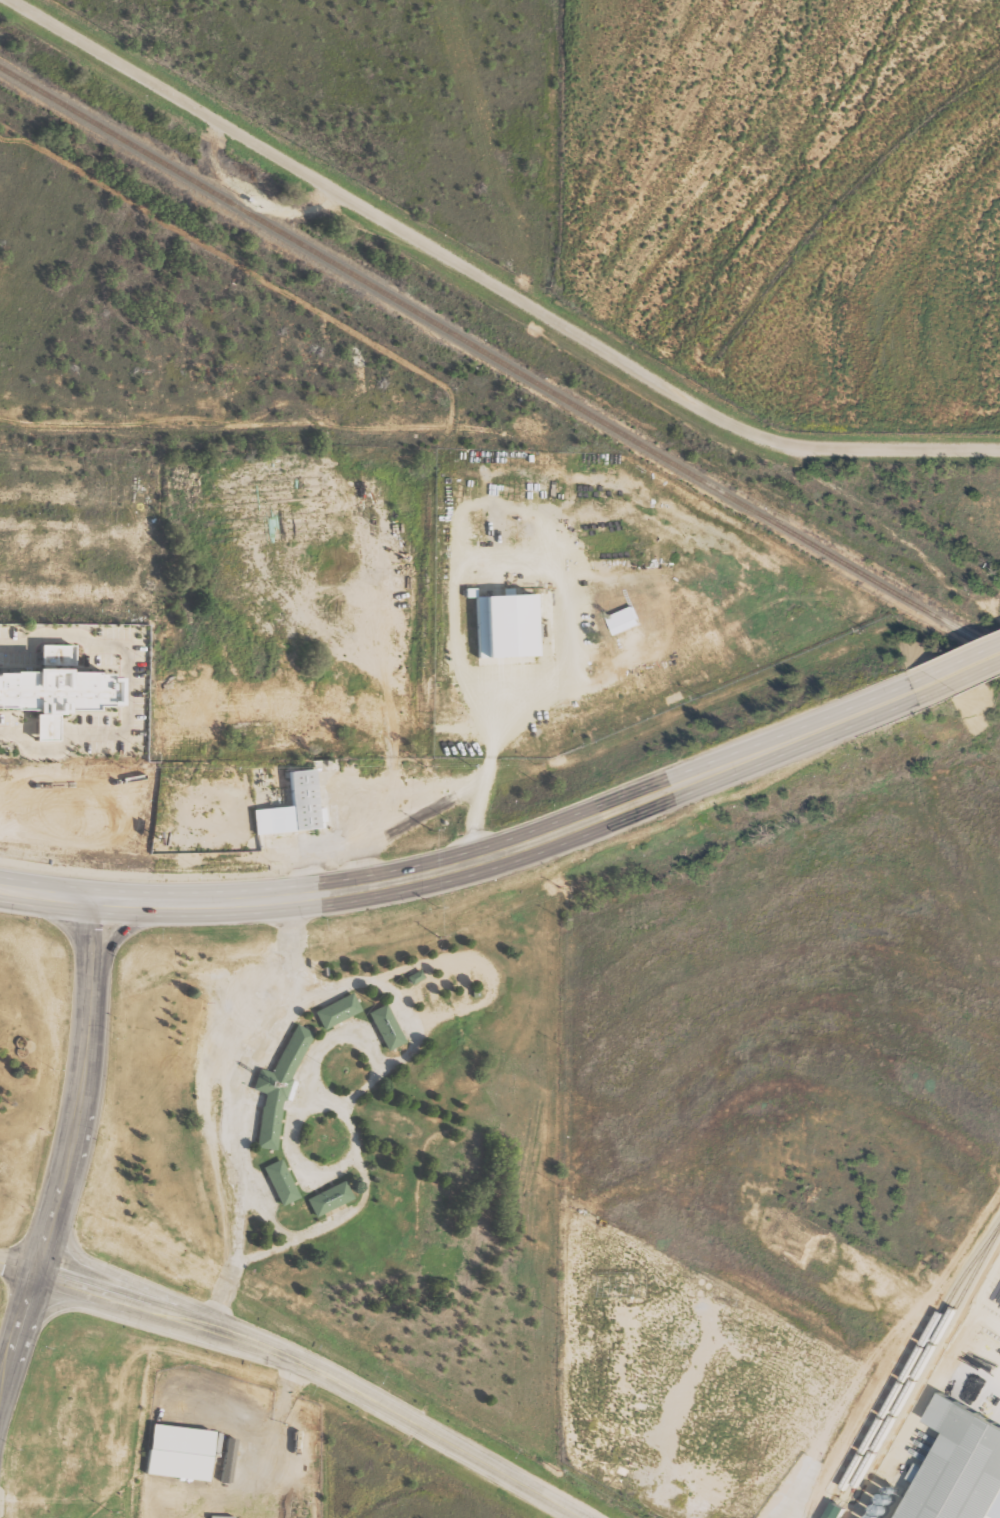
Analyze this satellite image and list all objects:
road: (492, 280)
railway: (499, 362)
building: (627, 618)
building: (513, 624)
road: (962, 664)
building: (68, 681)
building: (288, 806)
road: (521, 844)
road: (46, 895)
road: (122, 933)
building: (334, 1011)
building: (383, 1027)
road: (86, 1050)
building: (275, 1089)
building: (277, 1181)
building: (326, 1198)
road: (44, 1234)
road: (16, 1266)
road: (128, 1283)
road: (136, 1305)
road: (51, 1313)
road: (14, 1329)
railway: (924, 1358)
railway: (911, 1362)
road: (370, 1397)
building: (185, 1452)
building: (956, 1470)
road: (540, 1492)
building: (842, 1511)

